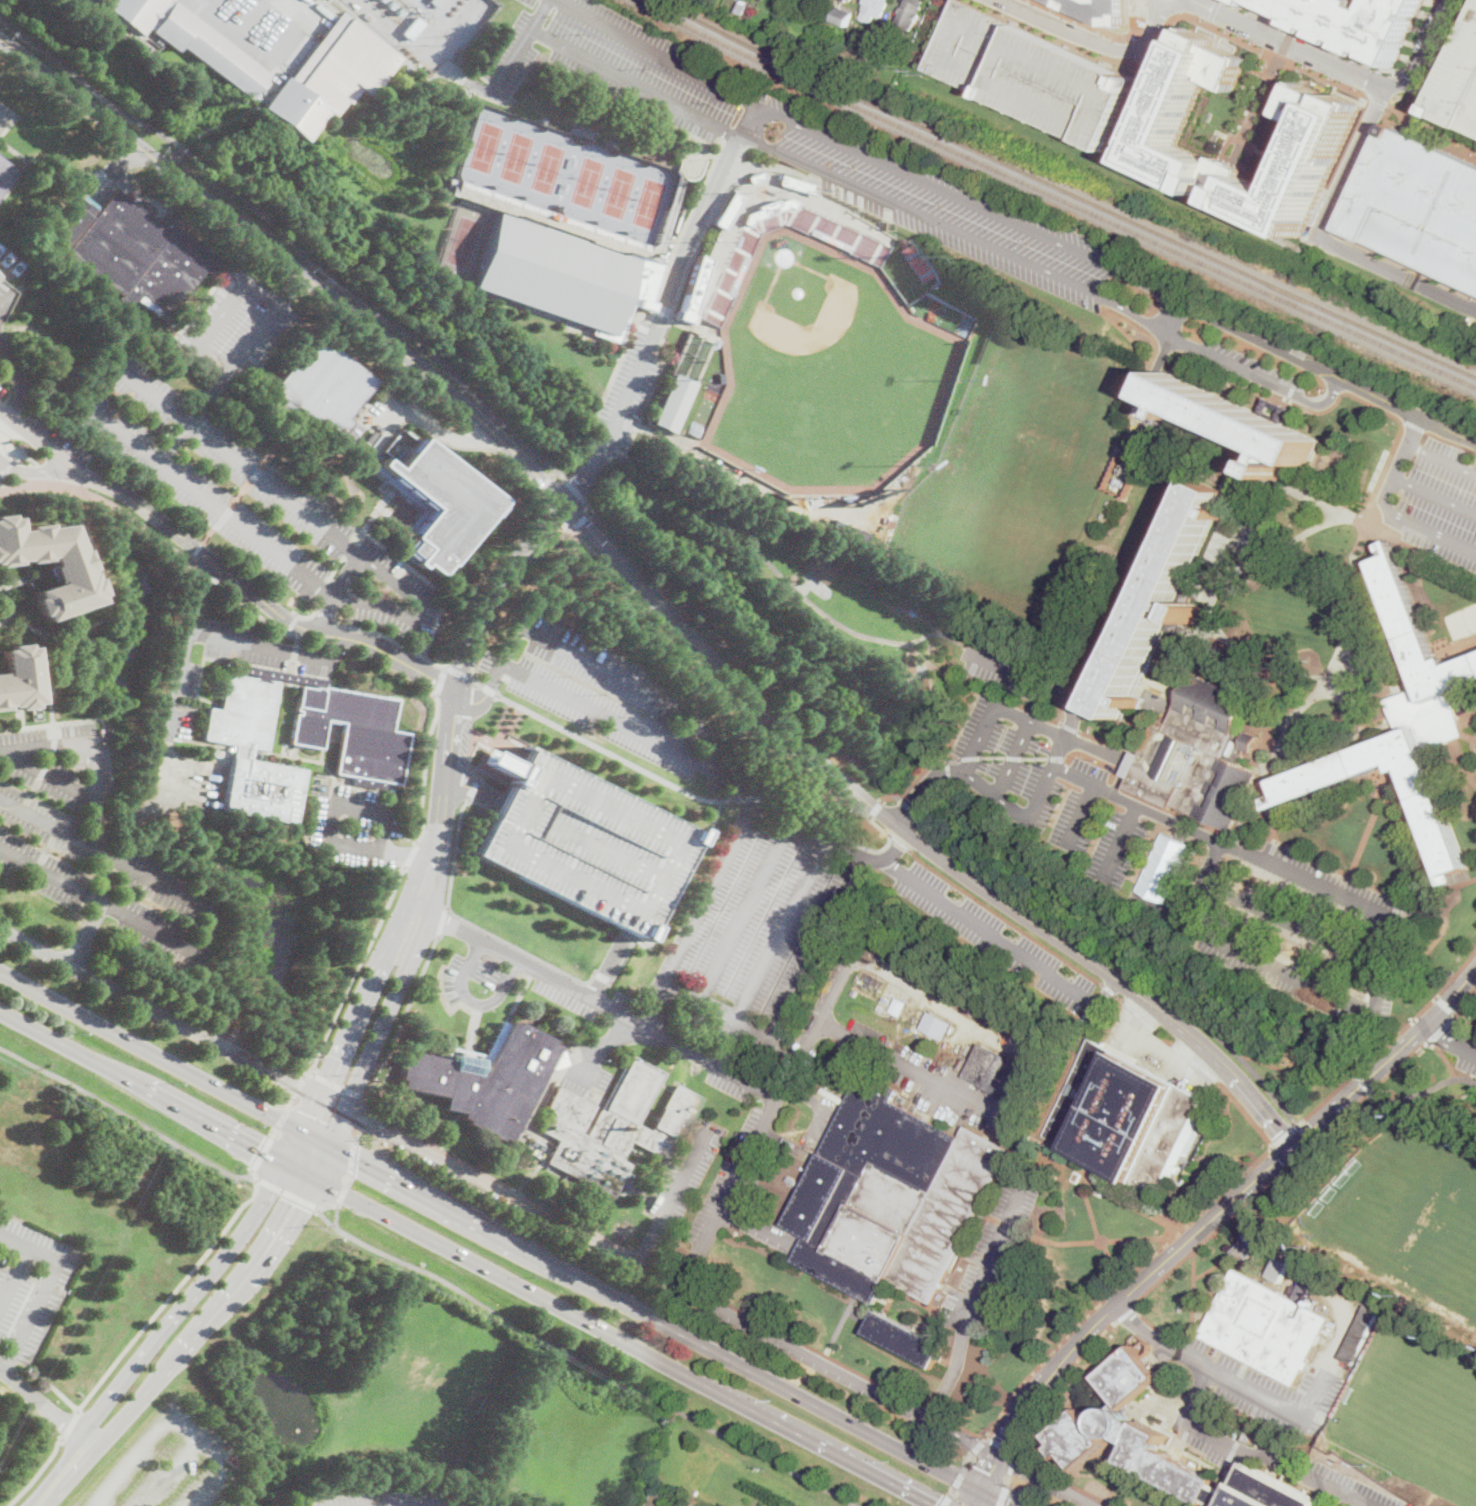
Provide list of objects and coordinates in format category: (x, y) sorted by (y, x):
building: (850, 0)
building: (824, 1)
building: (1253, 1)
building: (436, 2)
road: (83, 3)
building: (788, 4)
road: (1167, 7)
building: (742, 8)
building: (874, 9)
building: (1099, 9)
parking lot: (1099, 9)
building: (783, 14)
building: (843, 14)
building: (910, 14)
building: (1360, 22)
road: (1152, 23)
road: (1160, 24)
power substation: (426, 26)
parking lot: (265, 27)
road: (289, 31)
road: (399, 31)
road: (1074, 31)
road: (234, 32)
building: (876, 35)
building: (825, 39)
building: (191, 40)
building: (885, 43)
road: (1291, 43)
road: (1352, 52)
road: (658, 53)
building: (865, 55)
road: (513, 58)
road: (454, 69)
building: (1034, 73)
parking lot: (1034, 73)
building: (331, 75)
building: (1459, 83)
parking garage: (1459, 83)
road: (633, 84)
road: (1424, 88)
road: (1145, 98)
road: (1263, 98)
road: (1379, 102)
road: (3, 116)
parking lot: (5, 117)
road: (1433, 124)
building: (1165, 134)
road: (1433, 137)
parking lot: (799, 143)
park: (487, 147)
park: (518, 157)
park: (549, 168)
building: (5, 174)
building: (475, 175)
building: (756, 178)
park: (589, 182)
building: (798, 184)
park: (620, 192)
railway: (1068, 192)
railway: (1055, 196)
park: (650, 203)
building: (1421, 206)
parking garage: (1421, 206)
road: (1342, 209)
building: (727, 210)
building: (767, 210)
building: (553, 220)
road: (1054, 237)
road: (289, 239)
building: (832, 240)
park: (465, 241)
building: (135, 251)
building: (8, 263)
road: (287, 263)
road: (1395, 272)
building: (739, 274)
road: (1047, 274)
building: (567, 276)
building: (6, 289)
road: (325, 289)
building: (692, 290)
road: (4, 298)
parking lot: (5, 300)
road: (663, 304)
road: (218, 315)
road: (1172, 319)
parking lot: (231, 324)
road: (261, 324)
parking lot: (1253, 336)
parking lot: (1250, 368)
park: (825, 372)
road: (1151, 377)
building: (721, 378)
road: (18, 380)
building: (581, 380)
building: (318, 388)
road: (9, 389)
parking lot: (629, 389)
parking lot: (1, 391)
road: (1357, 397)
road: (1387, 401)
building: (672, 403)
building: (1267, 409)
road: (188, 418)
road: (428, 419)
building: (1234, 420)
road: (1414, 425)
road: (1455, 433)
parking lot: (15, 434)
road: (443, 441)
road: (1450, 441)
building: (77, 449)
road: (232, 459)
building: (90, 460)
building: (1243, 460)
building: (625, 461)
road: (1441, 461)
park: (1014, 467)
road: (32, 469)
road: (70, 469)
building: (1122, 476)
road: (548, 478)
road: (60, 484)
road: (2, 488)
road: (578, 489)
road: (1260, 491)
road: (547, 496)
road: (1435, 496)
road: (202, 498)
parking lot: (247, 499)
road: (232, 502)
parking lot: (1441, 504)
road: (107, 505)
building: (440, 505)
road: (1387, 509)
road: (1299, 512)
road: (559, 516)
road: (584, 520)
road: (1358, 522)
building: (839, 528)
building: (862, 529)
road: (1411, 535)
road: (1423, 541)
road: (1279, 548)
road: (1419, 550)
road: (218, 567)
building: (820, 567)
building: (68, 569)
road: (28, 579)
road: (96, 582)
road: (494, 587)
building: (1139, 590)
building: (1190, 590)
road: (331, 591)
road: (111, 601)
building: (1160, 601)
road: (1351, 602)
road: (8, 604)
road: (246, 605)
road: (324, 613)
park: (797, 614)
road: (414, 615)
road: (306, 616)
road: (292, 621)
park: (1462, 623)
building: (1174, 628)
road: (1214, 634)
road: (388, 636)
road: (47, 644)
road: (1459, 644)
road: (260, 646)
road: (1241, 654)
road: (585, 659)
road: (737, 660)
building: (906, 666)
road: (1009, 669)
parking lot: (1012, 670)
road: (457, 671)
road: (178, 675)
building: (17, 678)
road: (1412, 678)
road: (440, 679)
road: (475, 682)
building: (927, 682)
parking lot: (182, 684)
road: (1251, 686)
road: (1408, 688)
road: (488, 689)
parking lot: (597, 691)
road: (1072, 709)
road: (1251, 712)
road: (1472, 716)
road: (1461, 719)
road: (1274, 721)
road: (57, 722)
road: (53, 723)
road: (1037, 724)
road: (1268, 725)
building: (1405, 726)
road: (1260, 727)
road: (1388, 728)
road: (1284, 731)
building: (352, 733)
road: (1252, 733)
road: (482, 737)
road: (1470, 737)
road: (495, 741)
road: (783, 741)
building: (1250, 741)
road: (1250, 741)
road: (1270, 741)
road: (1455, 742)
road: (1333, 747)
building: (242, 749)
road: (1092, 749)
road: (1267, 749)
road: (1258, 754)
building: (1197, 756)
road: (1014, 758)
road: (1069, 758)
road: (1255, 761)
road: (710, 766)
road: (1463, 766)
road: (426, 769)
road: (49, 775)
road: (837, 776)
road: (92, 777)
road: (473, 787)
road: (924, 788)
road: (471, 790)
road: (694, 794)
road: (996, 795)
road: (442, 799)
road: (909, 807)
road: (363, 809)
road: (876, 809)
building: (854, 811)
road: (1246, 814)
road: (1081, 816)
road: (51, 826)
road: (1368, 827)
parking lot: (355, 828)
road: (455, 838)
building: (584, 839)
parking garage: (584, 839)
road: (1119, 841)
parking lot: (90, 845)
road: (1272, 851)
road: (410, 853)
road: (1166, 865)
parking lot: (1196, 870)
road: (1347, 873)
road: (50, 875)
road: (668, 905)
road: (745, 910)
road: (441, 921)
road: (1292, 922)
parking lot: (761, 923)
road: (210, 925)
road: (780, 929)
road: (87, 933)
road: (468, 933)
road: (1074, 934)
building: (883, 941)
road: (1005, 944)
parking lot: (1007, 944)
road: (521, 949)
road: (608, 962)
road: (1288, 970)
road: (354, 973)
building: (913, 973)
road: (601, 975)
parking lot: (494, 978)
building: (870, 984)
building: (855, 993)
parking lot: (564, 996)
road: (364, 997)
road: (473, 1001)
road: (939, 1001)
road: (1465, 1001)
building: (898, 1006)
road: (1446, 1006)
road: (160, 1010)
road: (714, 1010)
road: (1109, 1011)
road: (401, 1016)
building: (937, 1024)
building: (1020, 1025)
road: (648, 1027)
road: (380, 1028)
road: (1464, 1028)
road: (1442, 1029)
building: (1027, 1034)
road: (1451, 1038)
road: (1390, 1042)
road: (604, 1043)
road: (151, 1052)
road: (1445, 1057)
parking lot: (1468, 1059)
road: (1195, 1061)
road: (1386, 1061)
road: (1400, 1066)
road: (911, 1067)
road: (1227, 1071)
road: (312, 1072)
road: (1294, 1072)
building: (1001, 1074)
road: (304, 1075)
building: (485, 1078)
road: (1464, 1078)
road: (1362, 1081)
road: (327, 1082)
parking lot: (585, 1082)
road: (300, 1085)
road: (142, 1086)
road: (1267, 1087)
road: (343, 1089)
road: (1371, 1091)
road: (352, 1093)
road: (1058, 1094)
road: (1412, 1094)
road: (364, 1097)
road: (292, 1100)
road: (366, 1103)
road: (368, 1111)
road: (770, 1111)
road: (1246, 1112)
road: (311, 1113)
traffic signals: (311, 1115)
road: (127, 1117)
road: (283, 1117)
building: (1123, 1117)
road: (1342, 1118)
road: (363, 1119)
building: (614, 1129)
road: (274, 1132)
road: (997, 1132)
road: (358, 1133)
road: (1304, 1134)
road: (1283, 1136)
road: (316, 1139)
road: (293, 1147)
traffic signals: (258, 1149)
road: (262, 1152)
road: (353, 1157)
road: (320, 1162)
traffic signals: (358, 1162)
road: (298, 1170)
road: (253, 1173)
road: (348, 1180)
road: (499, 1181)
road: (678, 1188)
road: (1103, 1189)
road: (288, 1194)
road: (341, 1195)
building: (891, 1196)
traffic signals: (295, 1204)
road: (328, 1206)
park: (1407, 1212)
road: (337, 1217)
road: (1222, 1224)
road: (757, 1225)
building: (1251, 1244)
road: (643, 1254)
road: (641, 1256)
road: (1171, 1256)
road: (6, 1260)
road: (18, 1266)
road: (664, 1266)
building: (1280, 1266)
road: (1215, 1267)
road: (687, 1274)
road: (36, 1275)
road: (13, 1278)
road: (686, 1280)
road: (1119, 1284)
road: (44, 1290)
parking lot: (27, 1294)
road: (169, 1296)
road: (972, 1298)
road: (187, 1302)
road: (718, 1308)
road: (1126, 1314)
road: (209, 1318)
road: (654, 1319)
building: (1266, 1325)
road: (1193, 1327)
building: (1359, 1334)
building: (905, 1339)
road: (626, 1343)
road: (811, 1345)
road: (586, 1359)
road: (47, 1380)
road: (1229, 1380)
road: (1060, 1381)
parking lot: (1271, 1389)
road: (43, 1405)
park: (1419, 1408)
road: (936, 1410)
building: (1102, 1413)
road: (174, 1418)
road: (71, 1425)
road: (966, 1426)
road: (1012, 1427)
parking lot: (1210, 1436)
building: (1253, 1438)
road: (978, 1444)
road: (1000, 1444)
road: (1254, 1453)
road: (971, 1458)
road: (1012, 1462)
parking lot: (168, 1465)
building: (1165, 1468)
road: (169, 1472)
traffic signals: (987, 1472)
road: (38, 1473)
road: (62, 1473)
parking lot: (1322, 1476)
road: (1009, 1478)
road: (1065, 1479)
road: (956, 1484)
building: (1258, 1491)
building: (658, 1493)
road: (1003, 1494)
road: (975, 1498)
parking lot: (386, 1499)
road: (993, 1499)
traffic signals: (938, 1503)
parking lot: (1165, 1504)
building: (665, 1505)
traffic signals: (1007, 1505)

